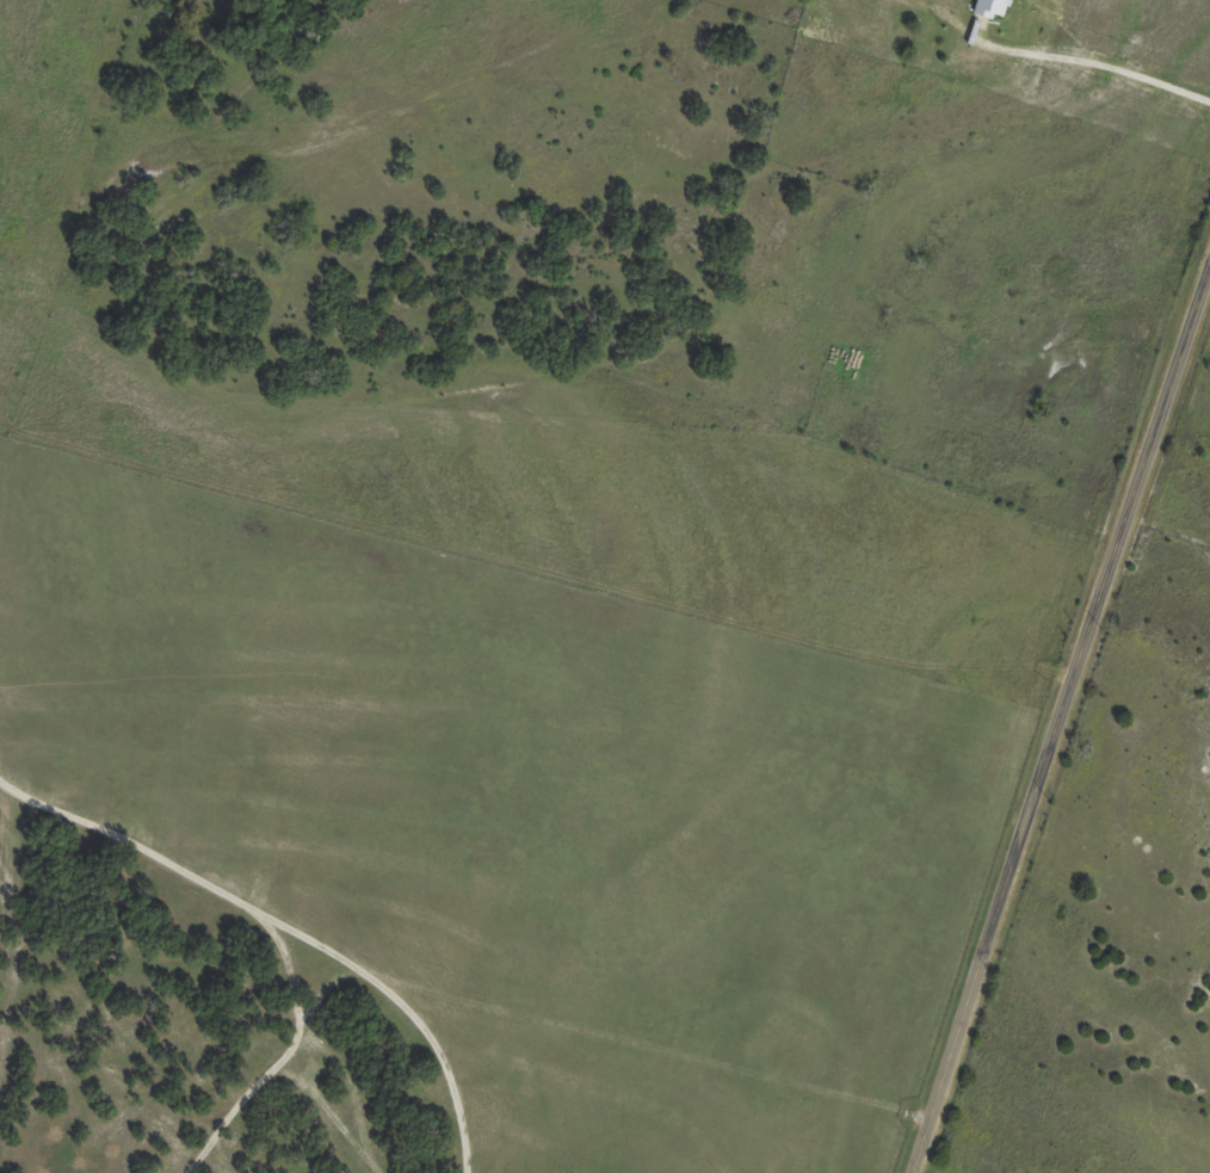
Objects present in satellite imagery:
building: (993, 7)
road: (1093, 62)
road: (1057, 717)

